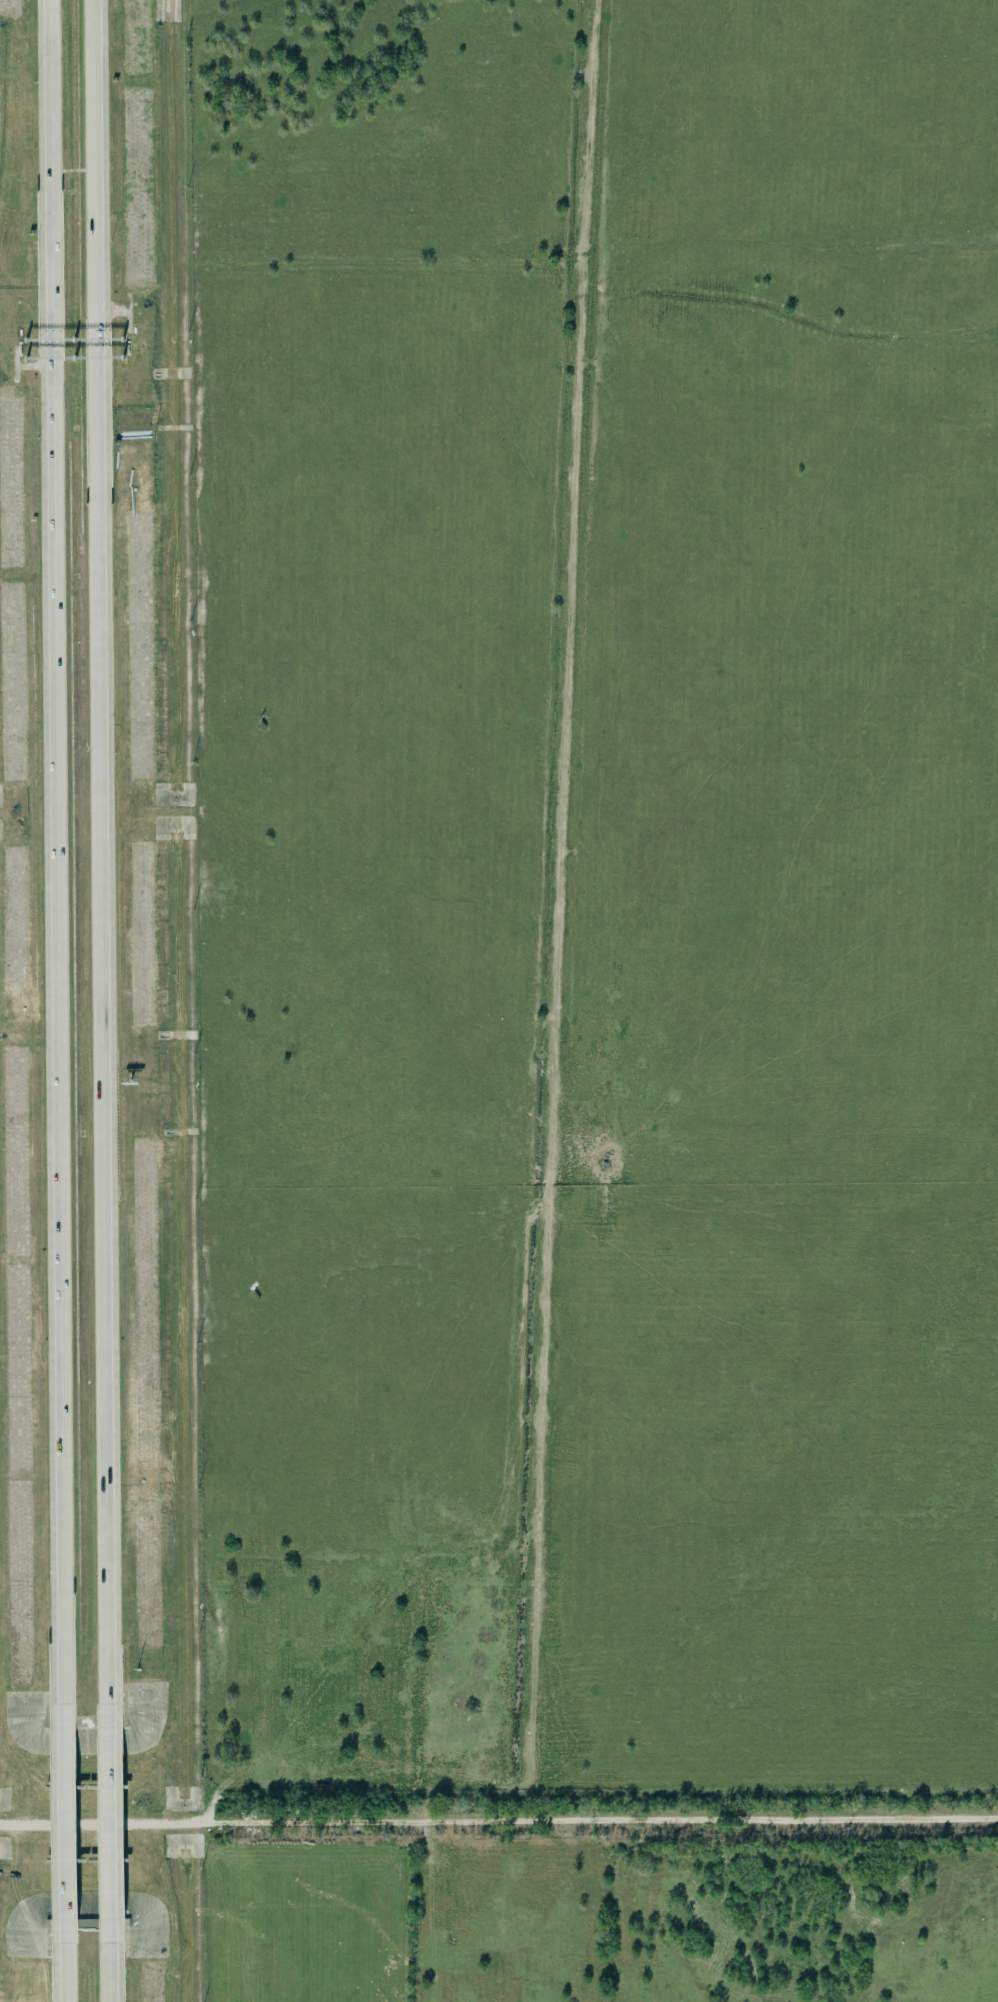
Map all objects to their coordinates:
road: (54, 852)
road: (100, 852)
road: (499, 1822)
road: (64, 1823)
road: (108, 1823)
road: (65, 1972)
road: (109, 1972)

